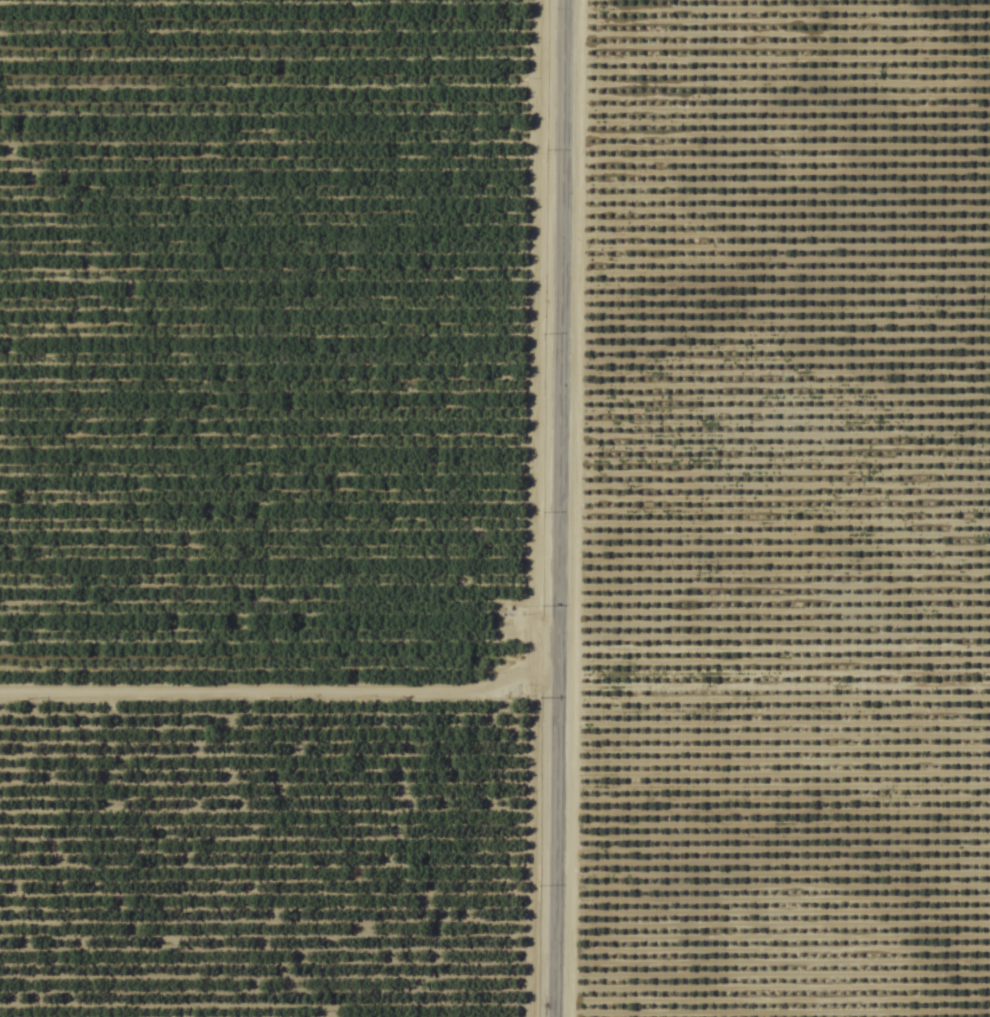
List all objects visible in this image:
road: (558, 508)

